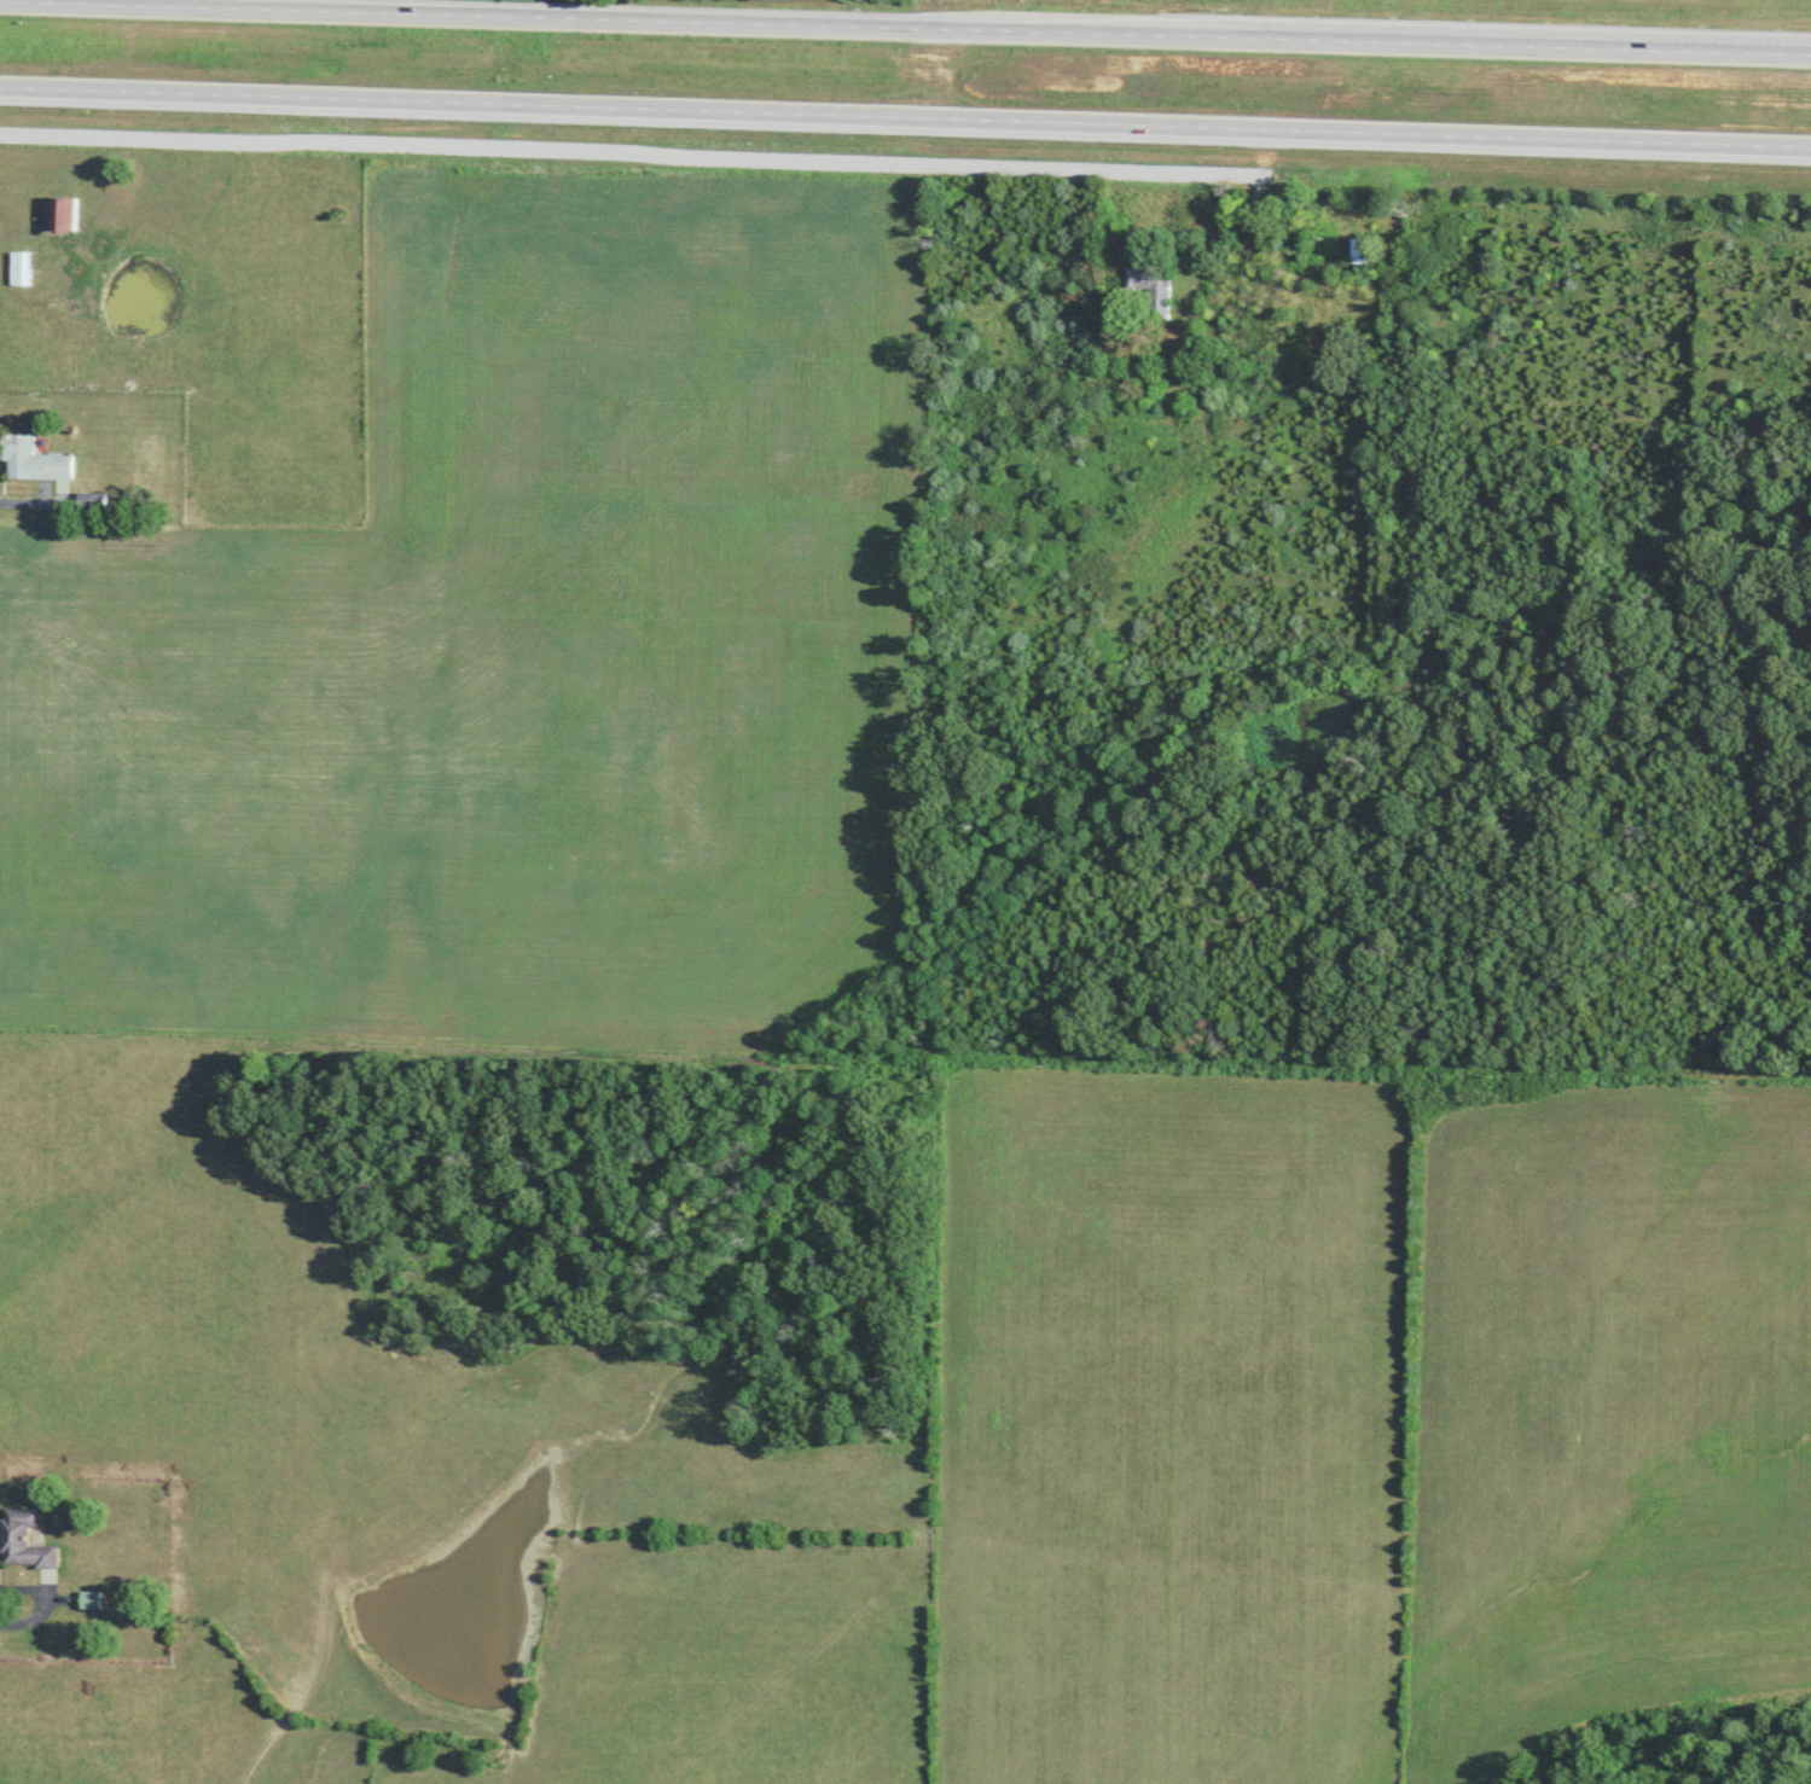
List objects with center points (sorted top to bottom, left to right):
road: (905, 30)
road: (905, 118)
building: (60, 213)
building: (1363, 251)
building: (19, 267)
building: (1155, 286)
building: (34, 459)
road: (29, 501)
building: (28, 1540)
building: (94, 1599)

